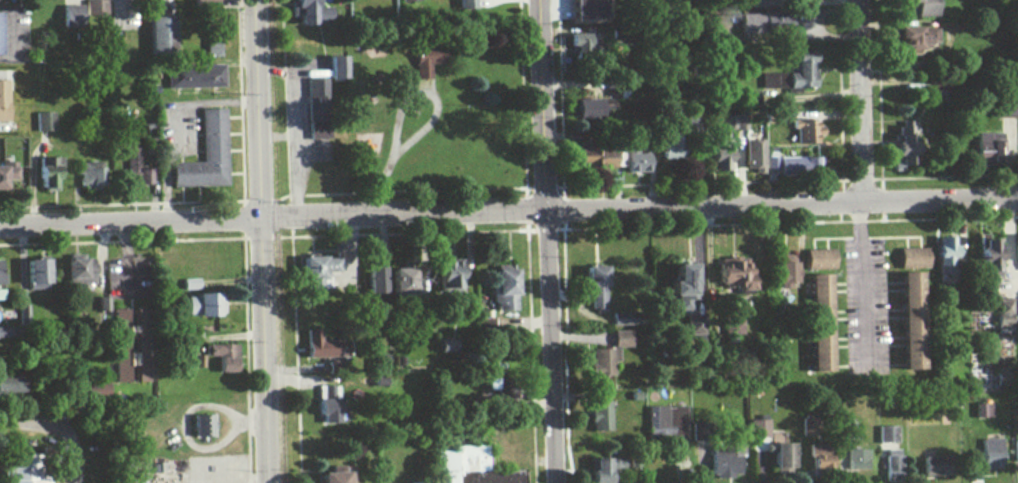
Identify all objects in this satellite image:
building: (757, 3)
building: (203, 4)
building: (464, 4)
building: (923, 7)
building: (92, 9)
building: (586, 9)
building: (304, 11)
building: (69, 16)
building: (763, 23)
building: (159, 34)
building: (914, 38)
building: (0, 46)
building: (210, 47)
building: (575, 50)
building: (425, 60)
building: (335, 66)
building: (800, 70)
building: (192, 77)
building: (770, 80)
road: (861, 99)
building: (2, 101)
building: (1008, 109)
building: (315, 116)
building: (42, 121)
building: (731, 122)
park: (433, 124)
building: (804, 131)
building: (903, 144)
building: (669, 147)
building: (987, 148)
building: (204, 154)
building: (752, 155)
building: (593, 156)
building: (720, 158)
building: (634, 161)
building: (769, 165)
building: (796, 165)
building: (133, 167)
building: (6, 174)
building: (88, 175)
building: (47, 176)
road: (638, 205)
road: (129, 221)
road: (259, 241)
railway: (276, 241)
road: (546, 241)
building: (1016, 251)
building: (988, 255)
building: (912, 258)
building: (819, 259)
building: (945, 260)
building: (0, 270)
building: (77, 271)
building: (316, 272)
building: (784, 272)
building: (34, 273)
building: (447, 276)
building: (735, 276)
road: (858, 280)
building: (402, 281)
building: (375, 282)
building: (188, 284)
building: (682, 286)
building: (593, 287)
building: (503, 289)
building: (202, 305)
building: (1017, 311)
building: (1002, 316)
building: (619, 319)
building: (912, 320)
building: (819, 322)
building: (694, 328)
building: (619, 339)
building: (118, 346)
building: (317, 346)
building: (222, 357)
building: (140, 362)
building: (600, 362)
building: (10, 385)
building: (326, 405)
building: (598, 416)
building: (665, 422)
building: (200, 426)
building: (806, 427)
building: (756, 429)
building: (885, 434)
building: (1015, 451)
building: (990, 453)
building: (782, 457)
building: (819, 458)
building: (724, 460)
building: (855, 460)
building: (457, 462)
building: (891, 465)
building: (936, 466)
building: (22, 468)
building: (603, 469)
building: (488, 477)

